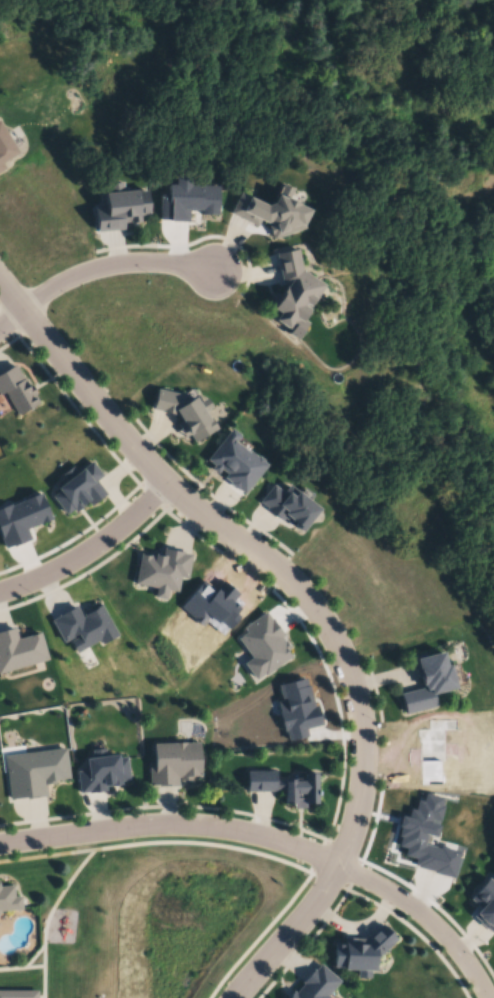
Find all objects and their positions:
building: (5, 147)
building: (187, 198)
building: (120, 207)
building: (271, 211)
road: (112, 266)
building: (295, 292)
road: (10, 321)
building: (16, 390)
building: (185, 412)
building: (235, 462)
building: (78, 489)
building: (292, 505)
building: (21, 519)
road: (86, 552)
building: (162, 571)
building: (212, 604)
road: (308, 604)
building: (84, 627)
building: (263, 645)
building: (19, 650)
building: (430, 685)
building: (296, 709)
building: (434, 749)
building: (173, 764)
building: (34, 773)
building: (102, 773)
building: (284, 787)
road: (168, 828)
building: (418, 833)
building: (9, 895)
building: (484, 906)
road: (425, 915)
building: (360, 948)
building: (316, 983)

